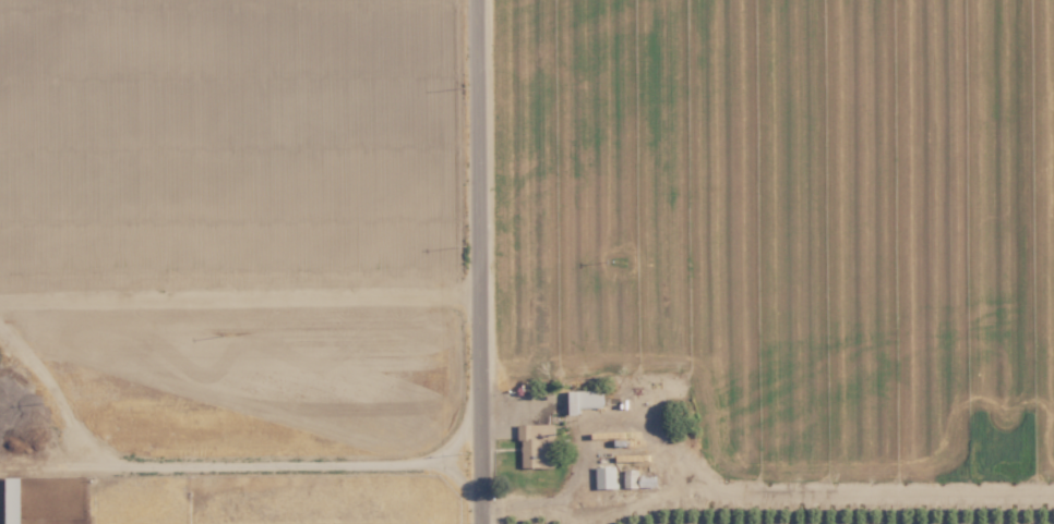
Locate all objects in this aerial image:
crop: (812, 233)
road: (478, 261)
crop: (226, 263)
road: (239, 304)
road: (56, 393)
building: (584, 400)
building: (536, 446)
road: (438, 463)
road: (218, 465)
building: (604, 477)

